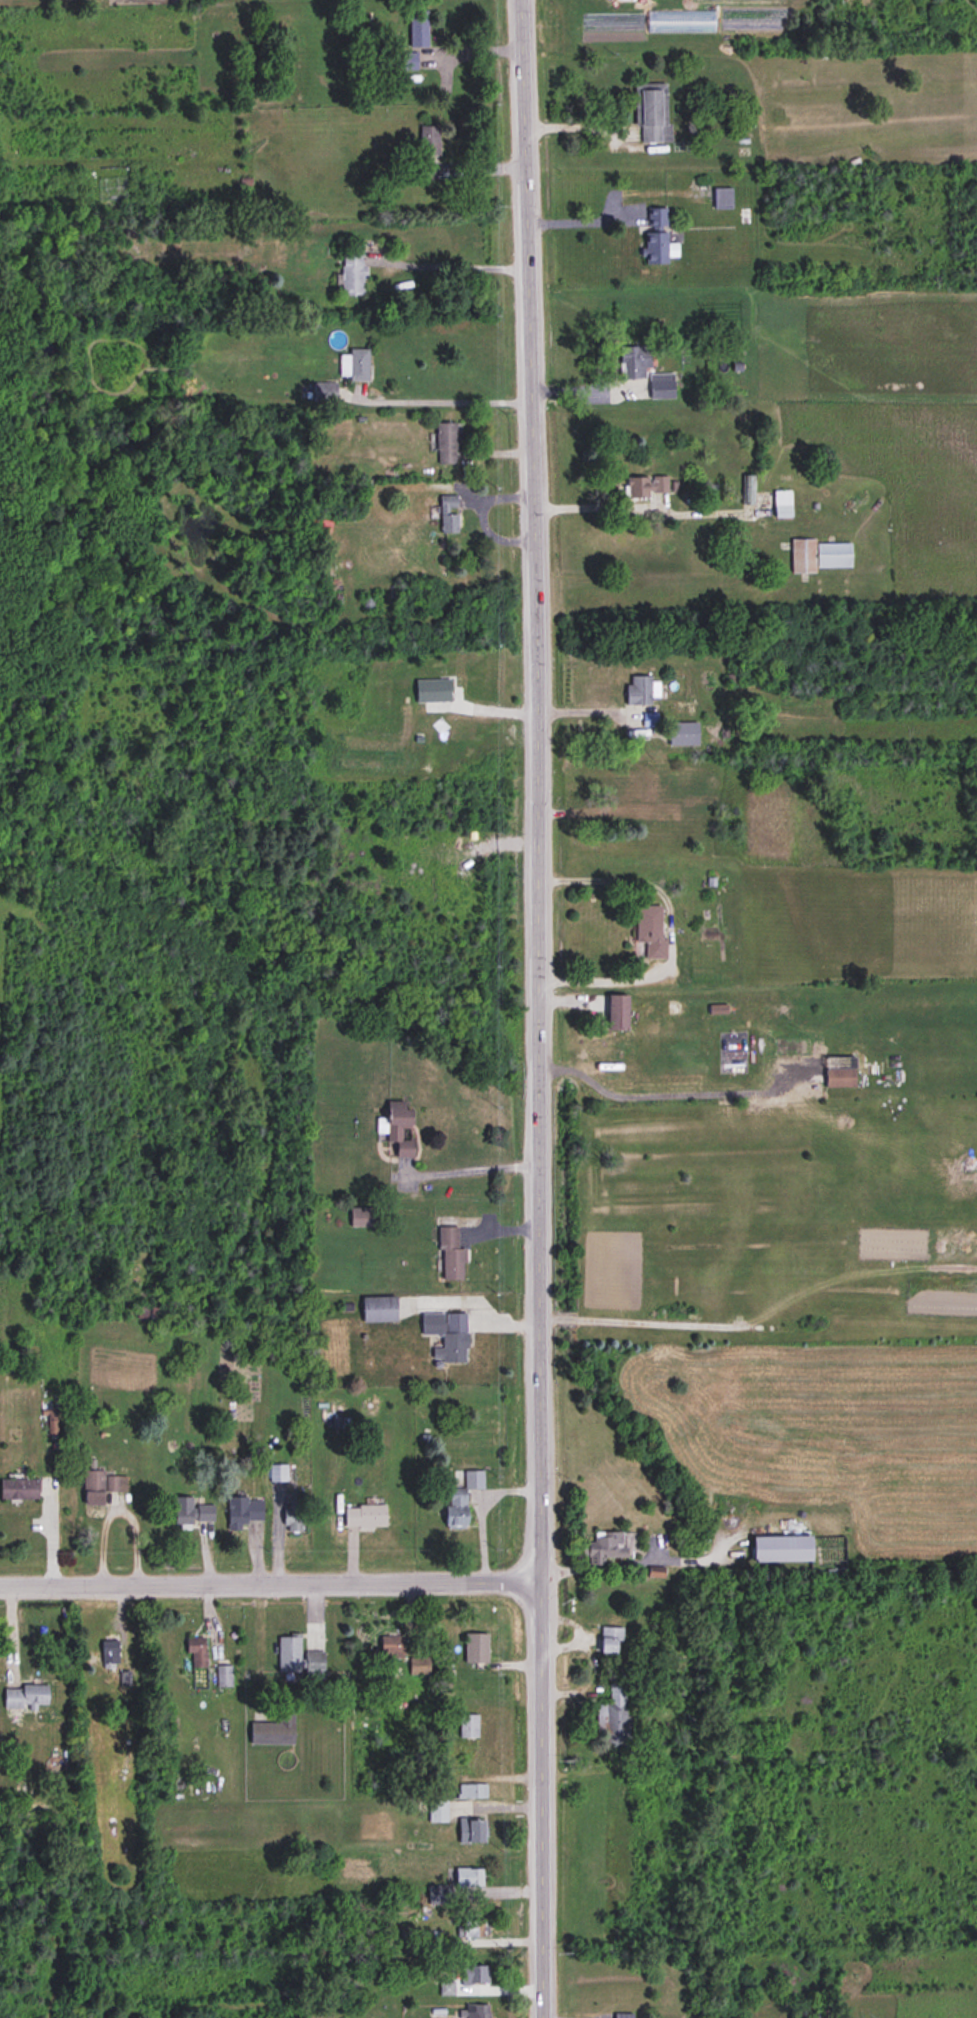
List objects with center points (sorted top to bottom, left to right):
building: (419, 29)
building: (408, 61)
building: (653, 114)
road: (576, 126)
building: (429, 141)
building: (724, 200)
road: (582, 219)
building: (657, 219)
building: (658, 249)
road: (453, 265)
building: (353, 273)
building: (355, 365)
building: (645, 371)
road: (587, 388)
building: (324, 391)
road: (446, 400)
building: (448, 443)
building: (645, 487)
building: (782, 504)
road: (599, 505)
building: (449, 515)
building: (382, 536)
building: (819, 556)
building: (639, 691)
road: (590, 709)
building: (684, 734)
building: (636, 782)
building: (667, 812)
building: (650, 931)
road: (667, 931)
road: (539, 1008)
building: (617, 1013)
building: (839, 1078)
building: (397, 1127)
road: (475, 1168)
building: (364, 1217)
building: (451, 1255)
building: (379, 1309)
building: (447, 1336)
building: (116, 1483)
building: (94, 1487)
building: (19, 1490)
building: (460, 1500)
building: (191, 1512)
building: (244, 1512)
road: (480, 1512)
building: (295, 1515)
building: (364, 1516)
building: (604, 1546)
building: (780, 1549)
road: (637, 1561)
road: (269, 1584)
building: (611, 1640)
building: (391, 1648)
building: (475, 1649)
building: (196, 1650)
building: (110, 1652)
building: (298, 1658)
building: (419, 1667)
building: (225, 1676)
building: (26, 1697)
building: (614, 1714)
building: (469, 1726)
building: (275, 1730)
building: (473, 1791)
building: (438, 1811)
building: (472, 1831)
building: (455, 1884)
building: (474, 1929)
building: (474, 1974)
building: (818, 2010)
building: (477, 2011)
building: (623, 2016)

